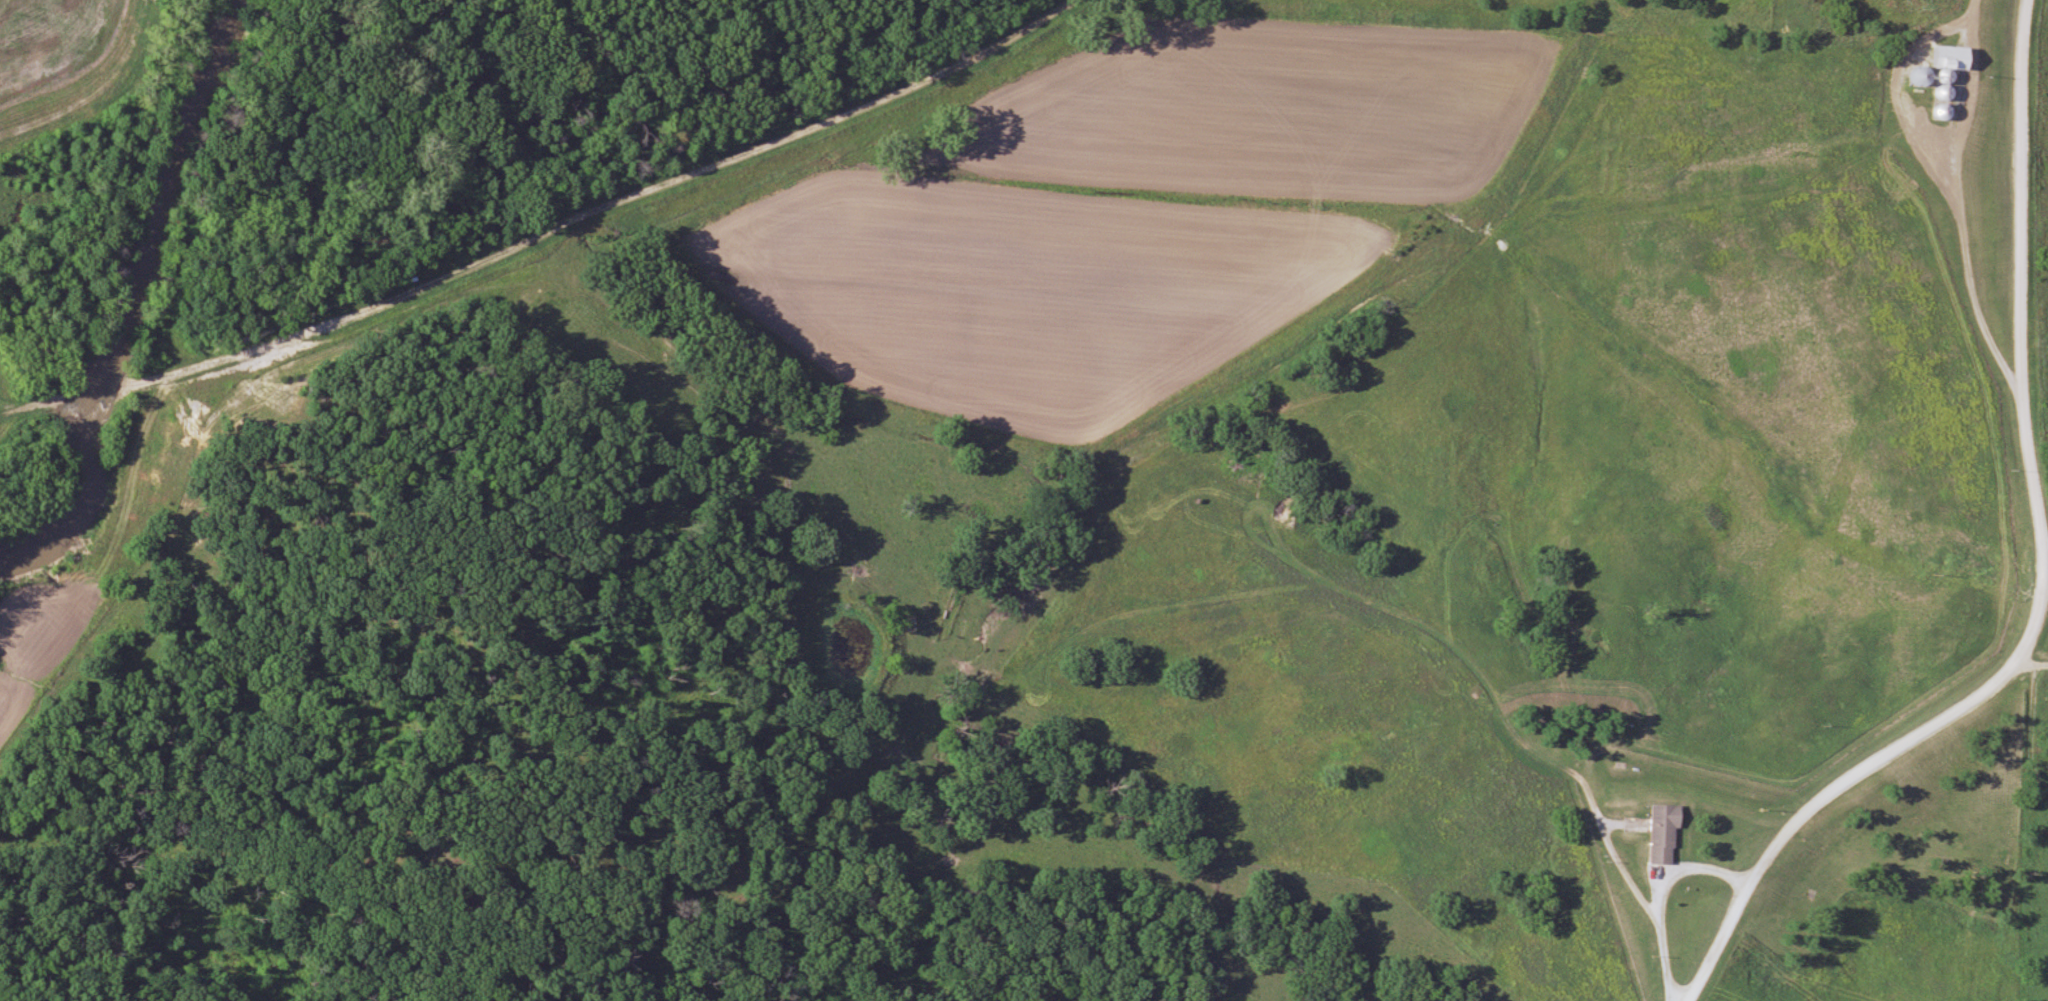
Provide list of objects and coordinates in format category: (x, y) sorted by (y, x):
building: (1946, 64)
road: (1955, 199)
river: (127, 303)
road: (2040, 575)
building: (1664, 835)
road: (1658, 894)

